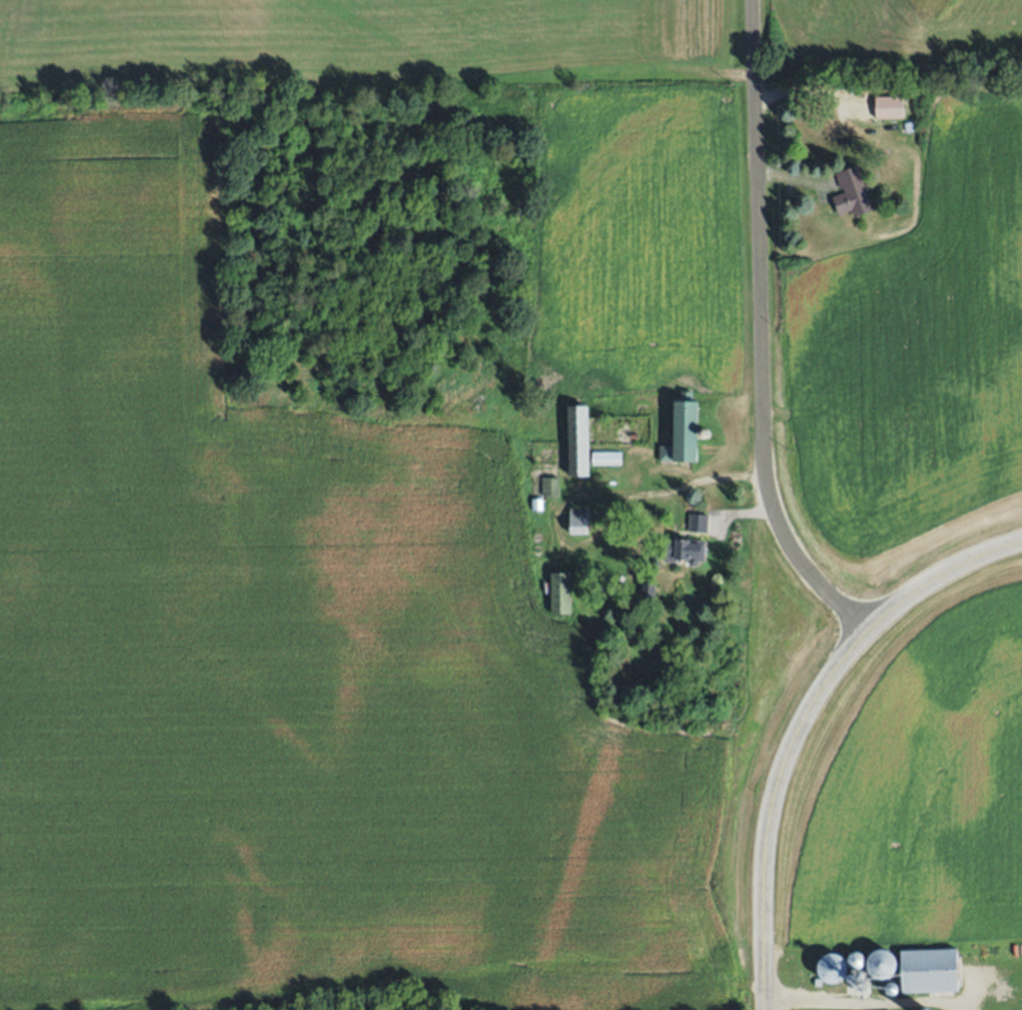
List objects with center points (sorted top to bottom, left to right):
building: (889, 107)
building: (910, 126)
building: (852, 193)
road: (760, 333)
building: (684, 432)
building: (578, 440)
building: (607, 457)
building: (550, 486)
building: (538, 504)
building: (579, 520)
building: (699, 524)
building: (683, 551)
building: (657, 563)
road: (938, 577)
building: (647, 589)
building: (561, 594)
road: (774, 809)
building: (879, 960)
building: (932, 964)
building: (832, 968)
building: (818, 979)
building: (877, 1009)

